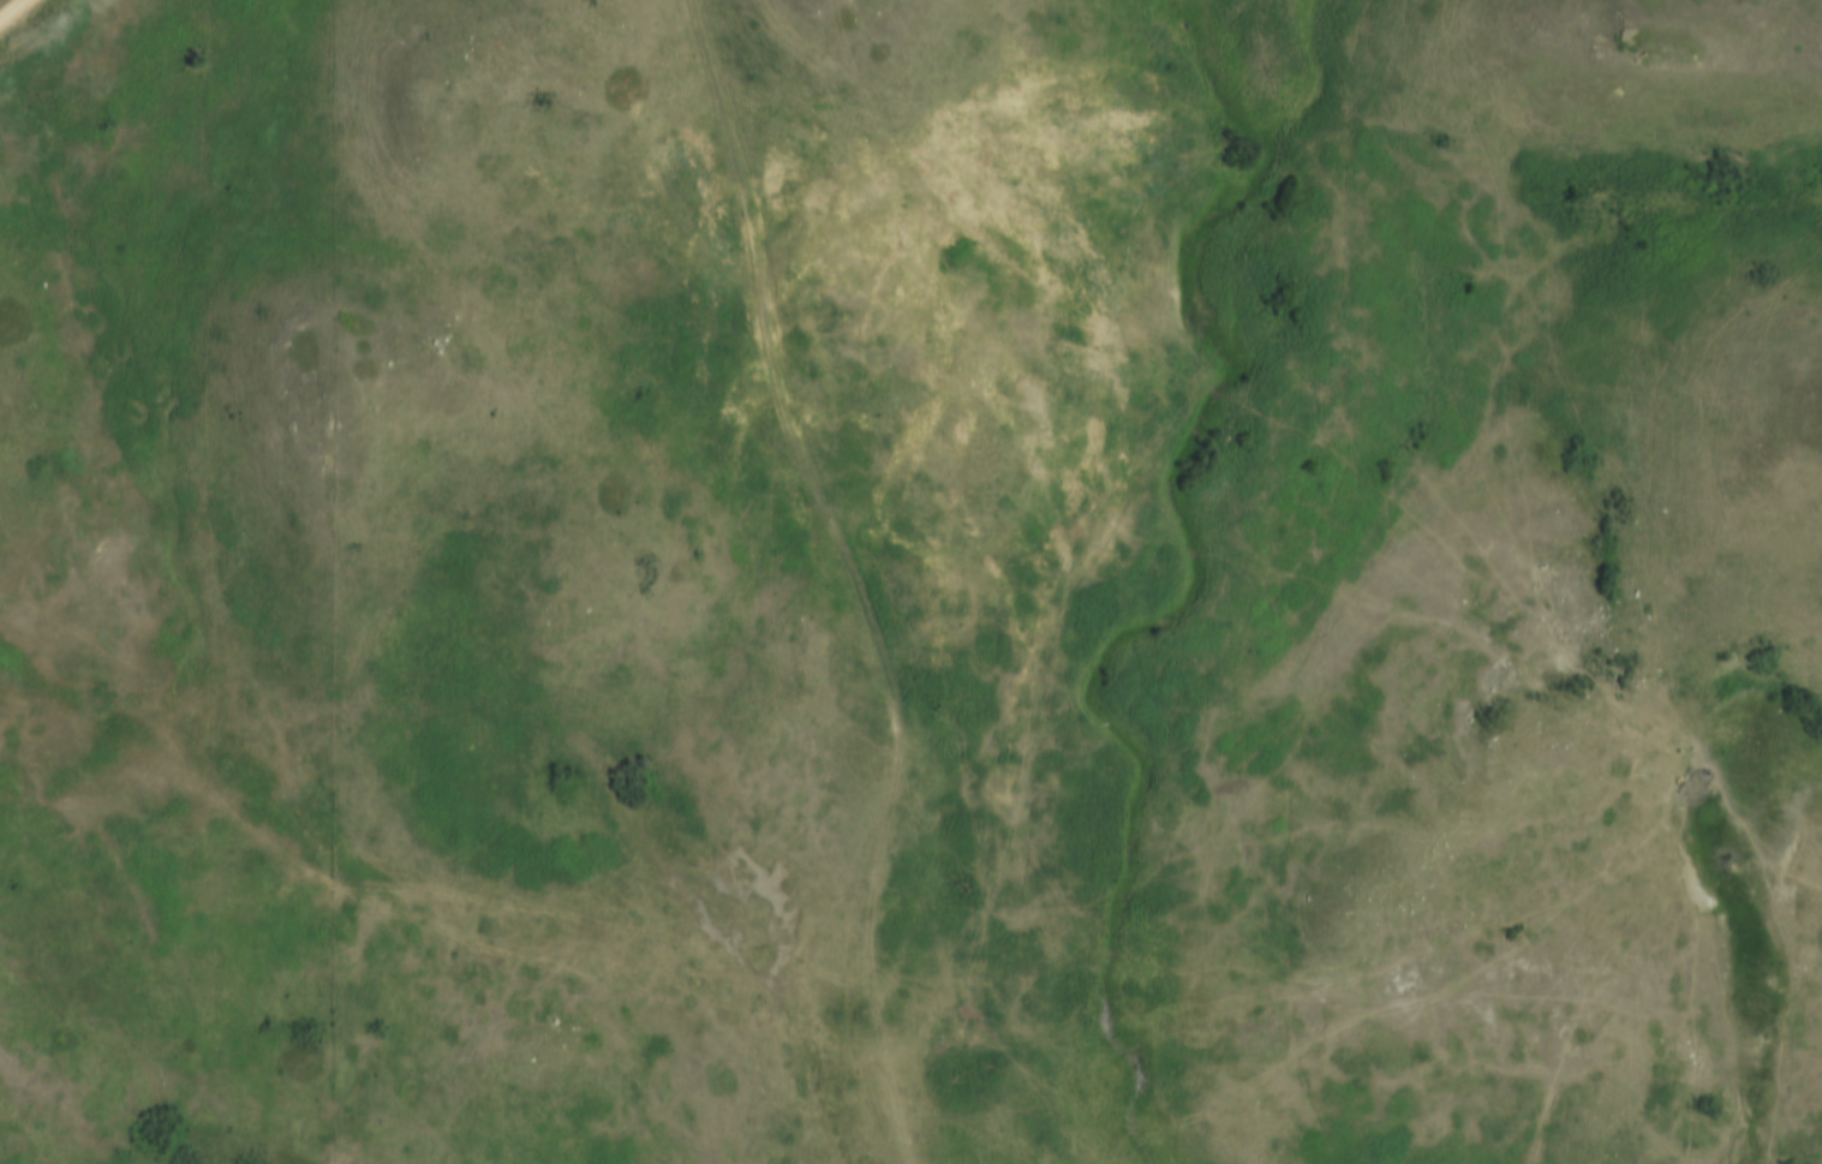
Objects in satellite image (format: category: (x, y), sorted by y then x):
road: (12, 8)
road: (854, 577)
road: (1655, 801)

